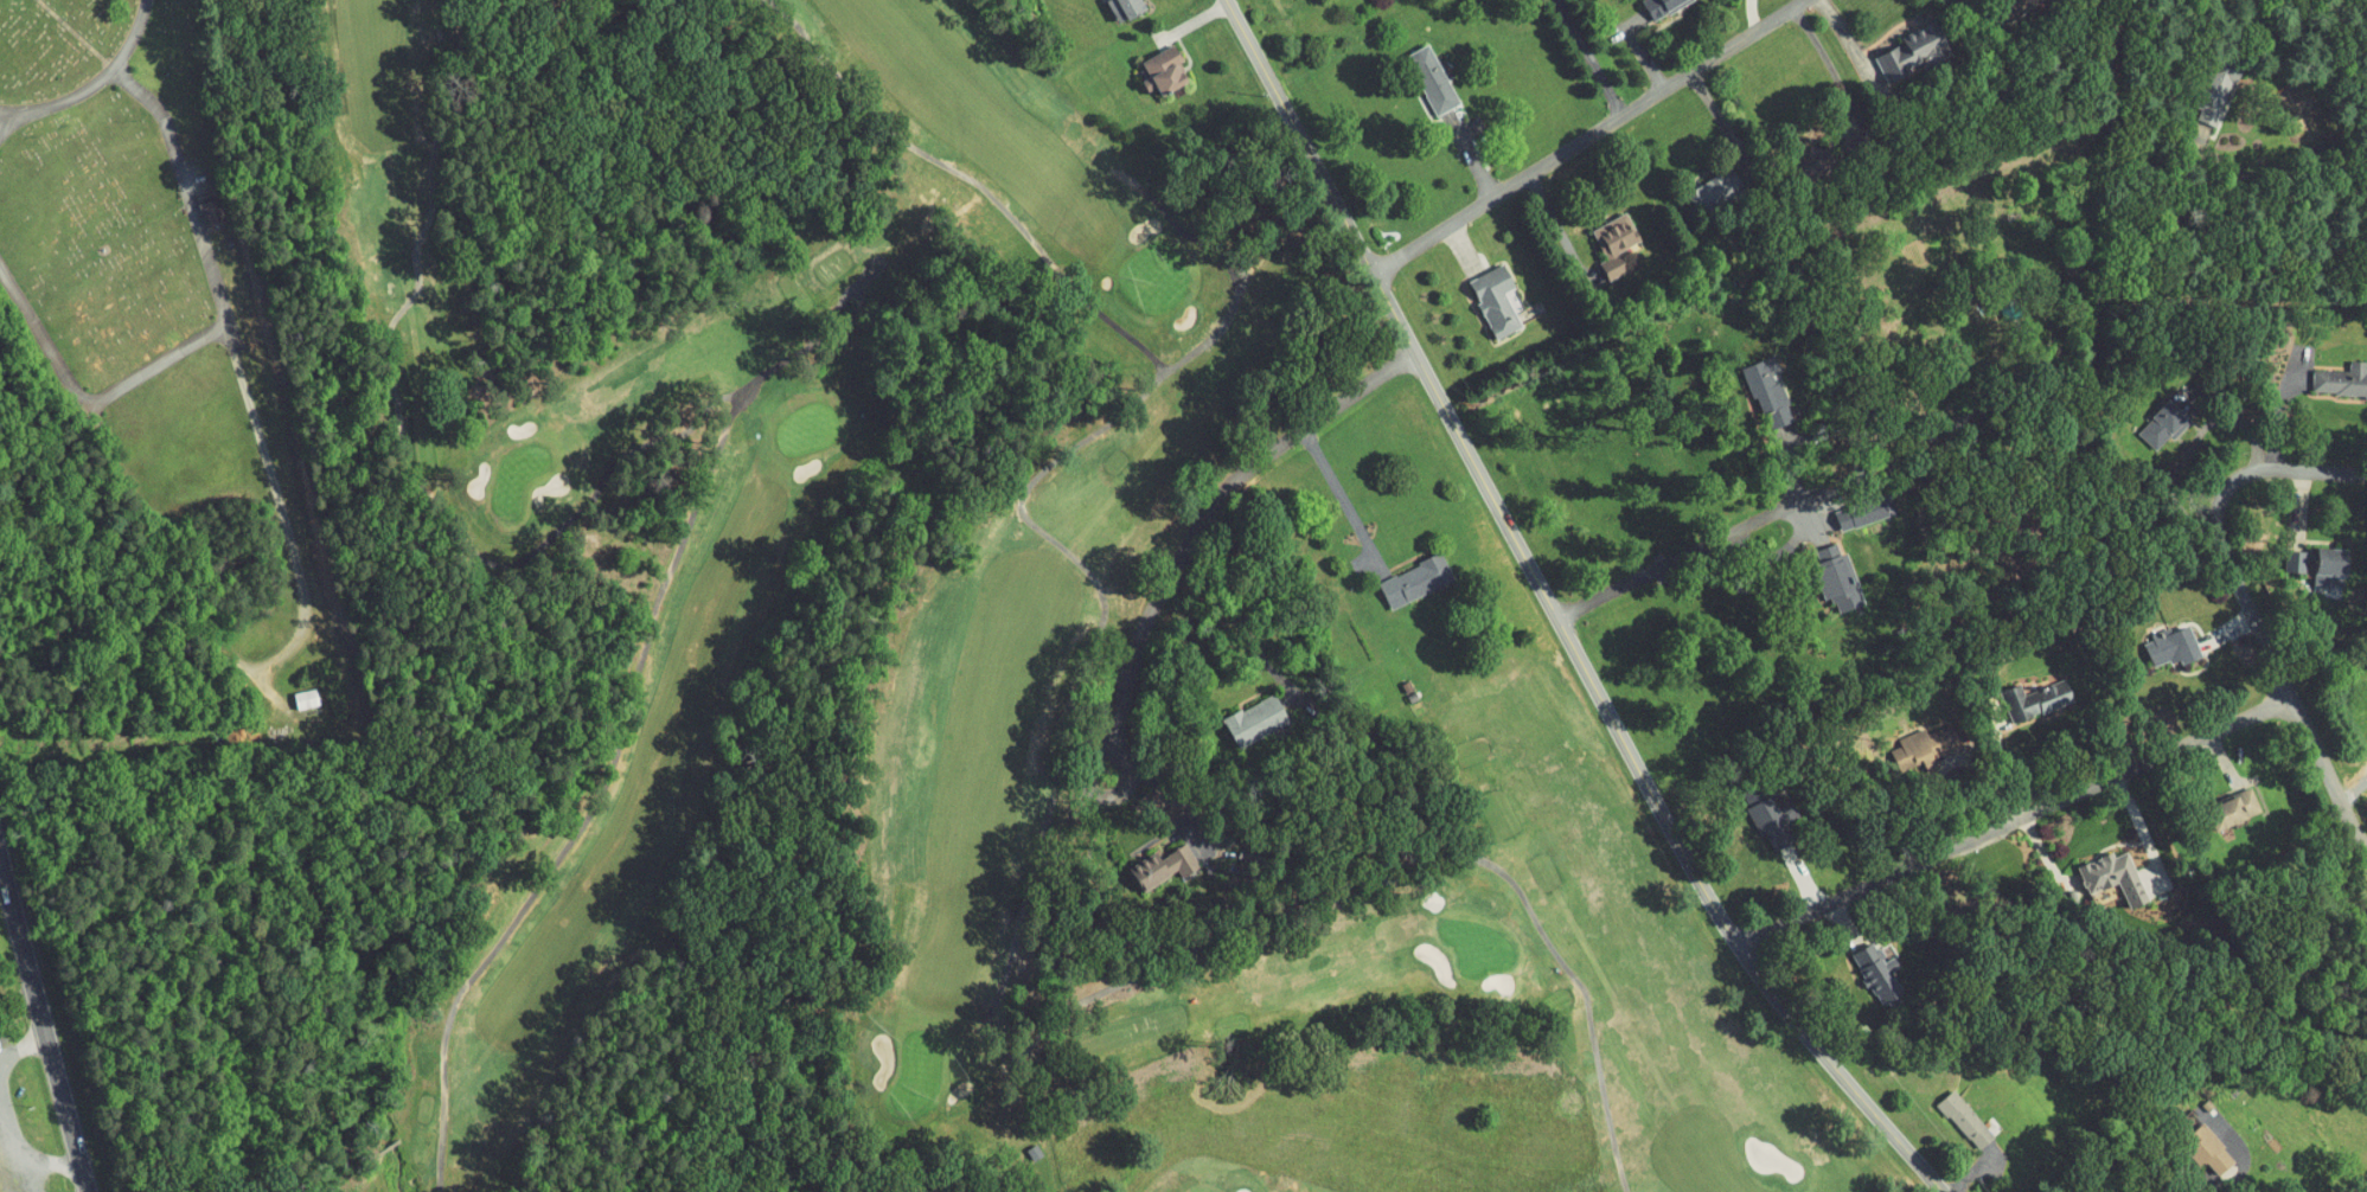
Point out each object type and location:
road: (1971, 7)
building: (1112, 8)
road: (71, 33)
building: (1896, 45)
road: (1587, 57)
road: (1824, 62)
building: (1152, 64)
building: (1421, 71)
road: (90, 81)
road: (5, 115)
road: (1719, 121)
road: (1587, 136)
road: (2269, 172)
road: (971, 178)
building: (1605, 235)
road: (884, 258)
road: (1230, 267)
road: (1247, 269)
building: (1486, 291)
park: (169, 346)
road: (152, 364)
building: (2322, 370)
building: (1761, 384)
building: (2144, 416)
road: (416, 482)
road: (1213, 507)
building: (1844, 507)
building: (2295, 555)
road: (1680, 557)
building: (1829, 570)
building: (1401, 571)
road: (296, 595)
road: (2246, 604)
road: (1555, 615)
building: (2151, 637)
building: (293, 690)
building: (2016, 690)
building: (1241, 713)
building: (1896, 742)
road: (1088, 783)
road: (595, 801)
building: (2211, 801)
building: (1741, 803)
road: (2014, 820)
building: (1146, 860)
building: (2091, 867)
building: (1857, 962)
road: (44, 1024)
road: (1038, 1034)
building: (1946, 1110)
building: (2187, 1141)
road: (2230, 1183)

